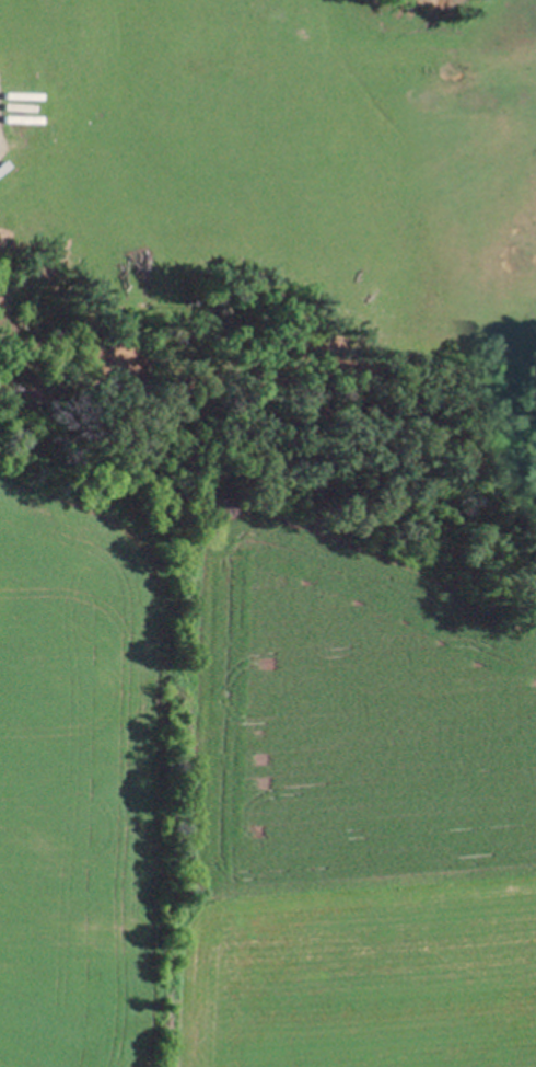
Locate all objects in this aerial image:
crop: (95, 776)
crop: (359, 813)

